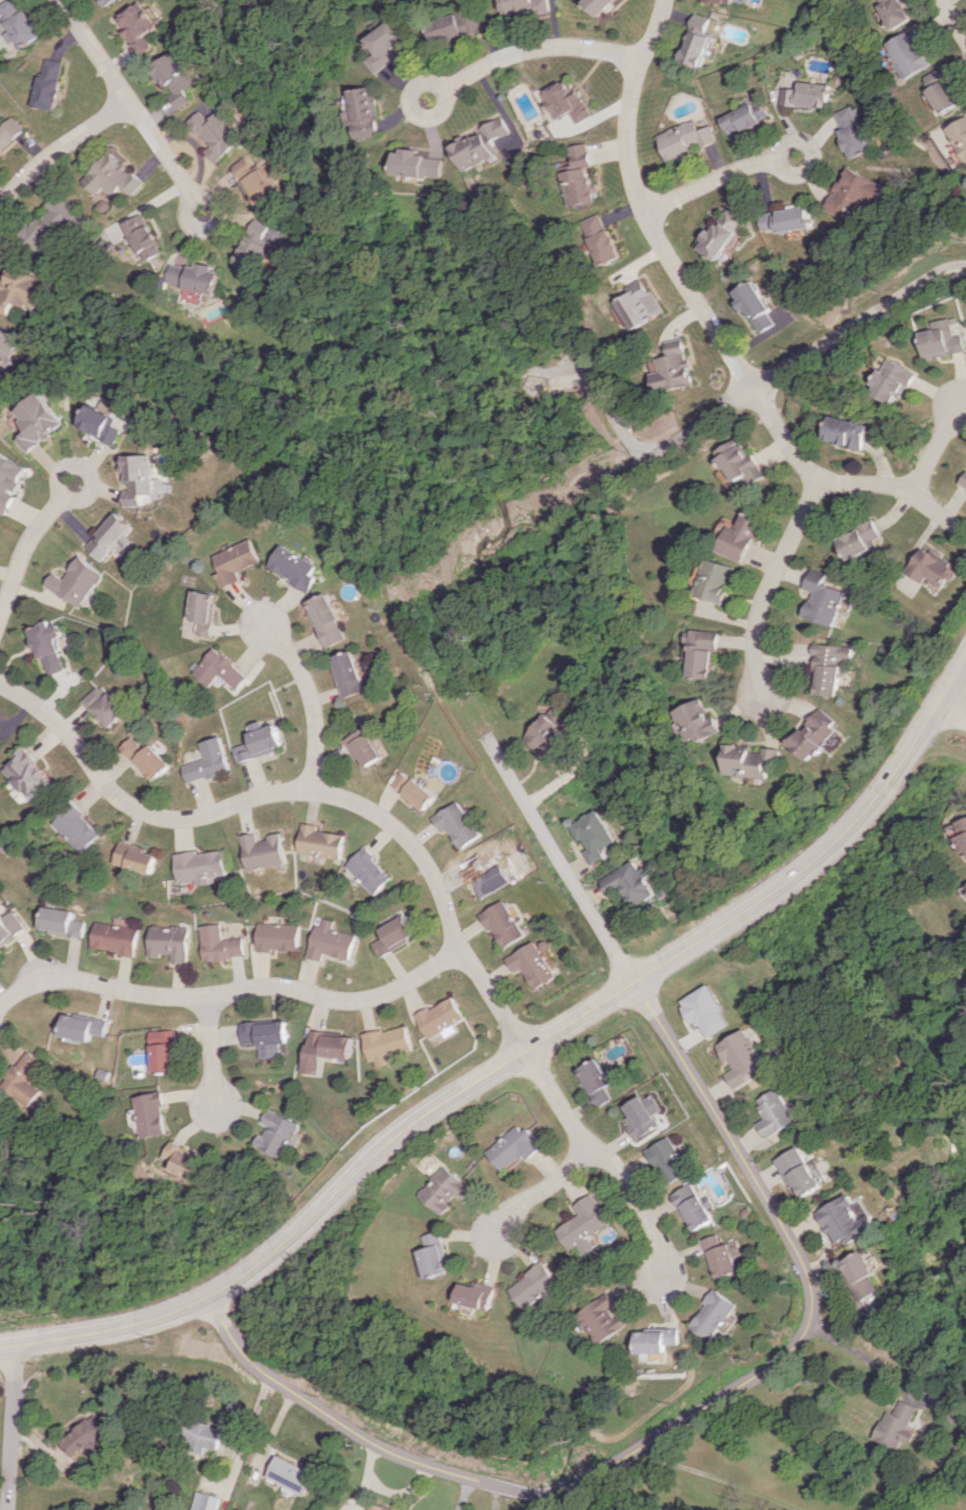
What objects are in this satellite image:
building: (715, 0)
building: (106, 2)
building: (597, 5)
building: (525, 7)
building: (898, 12)
road: (954, 18)
building: (134, 20)
building: (19, 23)
building: (456, 26)
building: (696, 41)
building: (142, 45)
building: (391, 46)
road: (529, 50)
building: (913, 52)
building: (172, 77)
building: (49, 84)
building: (946, 90)
building: (807, 95)
building: (569, 101)
road: (130, 106)
building: (368, 114)
building: (745, 117)
building: (855, 131)
building: (9, 132)
building: (959, 132)
building: (214, 133)
building: (686, 139)
building: (483, 143)
road: (55, 150)
building: (421, 164)
building: (112, 176)
building: (582, 176)
road: (720, 179)
building: (256, 182)
building: (857, 193)
road: (643, 206)
building: (790, 219)
building: (54, 223)
building: (724, 234)
building: (145, 237)
building: (605, 238)
building: (262, 248)
building: (197, 276)
building: (25, 288)
building: (643, 304)
building: (756, 306)
road: (857, 322)
building: (944, 338)
building: (8, 347)
building: (674, 368)
building: (894, 381)
road: (608, 406)
building: (38, 421)
road: (700, 422)
building: (101, 424)
building: (848, 431)
road: (936, 447)
building: (742, 461)
building: (139, 478)
building: (9, 480)
building: (963, 481)
road: (839, 482)
road: (961, 531)
building: (110, 536)
building: (743, 537)
road: (25, 538)
building: (862, 538)
building: (238, 562)
building: (932, 567)
building: (298, 568)
building: (718, 580)
building: (74, 582)
road: (769, 583)
building: (822, 598)
building: (204, 611)
building: (328, 620)
building: (46, 647)
building: (705, 652)
building: (830, 668)
building: (217, 670)
building: (348, 674)
road: (307, 697)
road: (955, 704)
building: (104, 705)
building: (700, 721)
building: (817, 734)
building: (549, 737)
building: (257, 741)
building: (364, 746)
building: (145, 758)
building: (206, 761)
building: (754, 761)
building: (29, 774)
road: (579, 774)
building: (414, 789)
building: (458, 824)
building: (78, 826)
building: (961, 833)
building: (594, 835)
building: (318, 842)
building: (261, 851)
road: (828, 852)
building: (136, 858)
road: (423, 858)
road: (559, 860)
building: (200, 866)
building: (366, 870)
building: (485, 875)
building: (631, 883)
building: (63, 922)
building: (503, 924)
building: (11, 928)
building: (391, 935)
building: (277, 936)
building: (116, 938)
building: (328, 941)
building: (169, 942)
building: (219, 944)
building: (530, 964)
road: (44, 974)
road: (230, 991)
building: (703, 1010)
building: (437, 1018)
building: (85, 1026)
building: (268, 1036)
building: (386, 1044)
building: (327, 1049)
building: (166, 1051)
road: (214, 1053)
building: (739, 1057)
building: (29, 1078)
building: (593, 1081)
building: (773, 1113)
building: (154, 1114)
building: (641, 1115)
building: (281, 1134)
building: (511, 1147)
building: (666, 1160)
building: (191, 1161)
building: (798, 1172)
building: (444, 1189)
road: (533, 1193)
road: (331, 1201)
building: (692, 1206)
building: (844, 1221)
building: (583, 1222)
building: (438, 1255)
building: (722, 1255)
building: (862, 1276)
building: (537, 1285)
building: (481, 1295)
building: (716, 1315)
building: (605, 1318)
building: (661, 1340)
road: (869, 1359)
building: (947, 1398)
road: (679, 1422)
building: (901, 1424)
road: (9, 1427)
building: (199, 1436)
building: (84, 1438)
building: (287, 1475)
building: (201, 1501)
building: (374, 1508)

